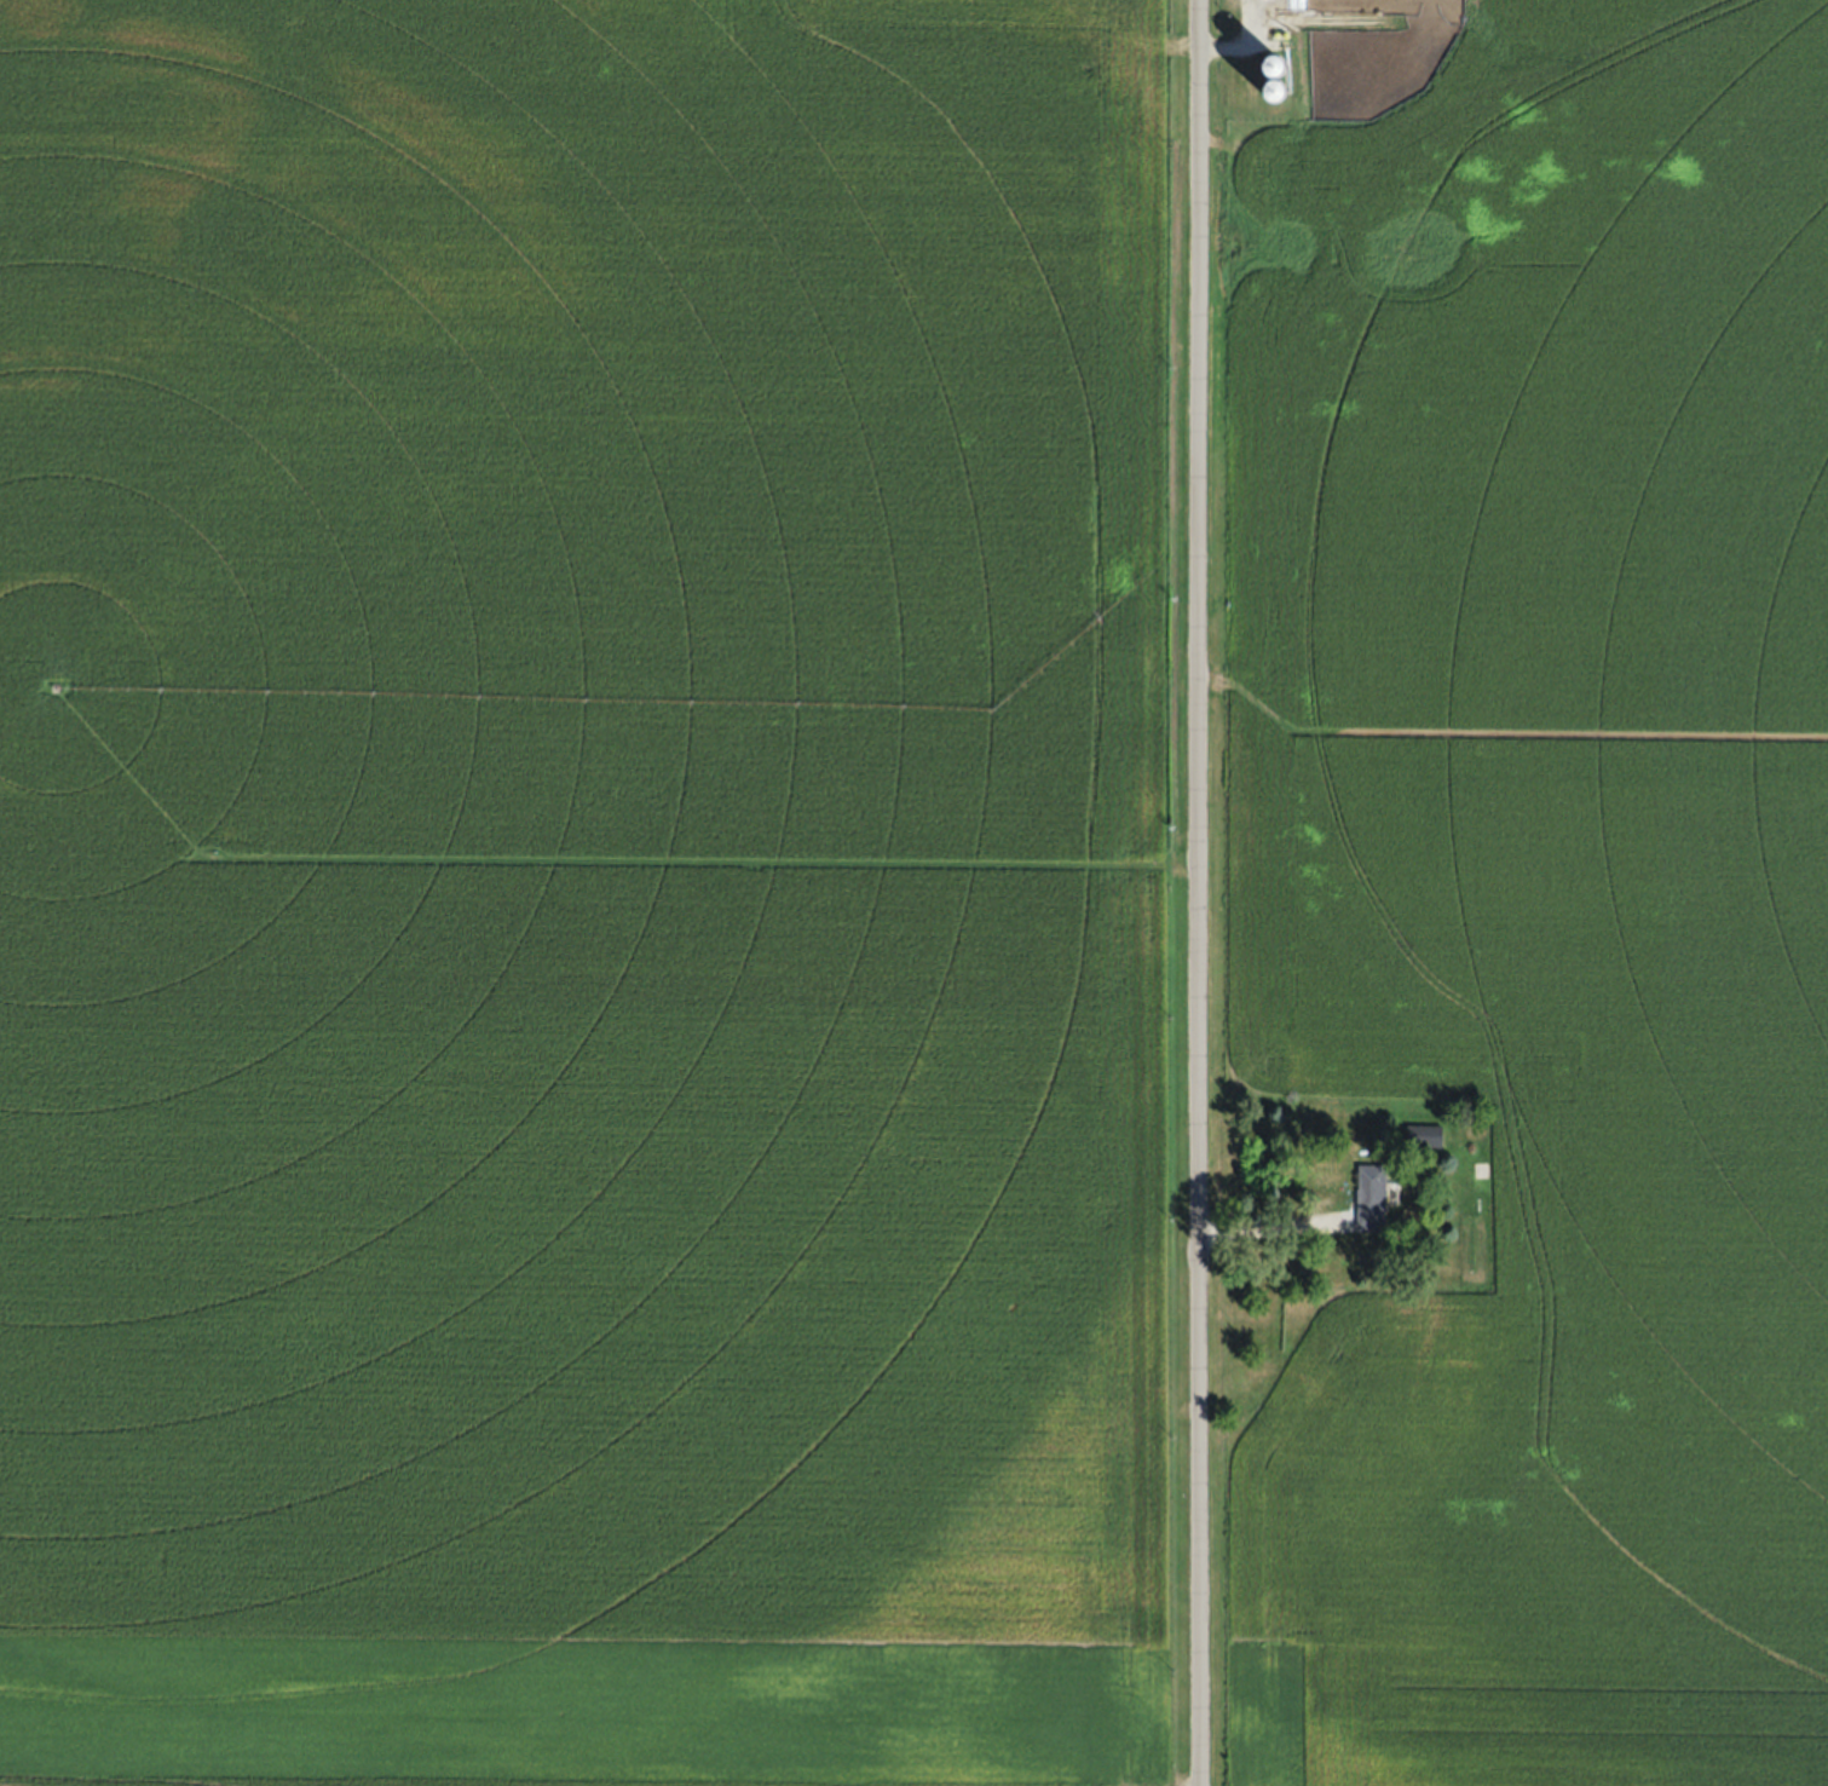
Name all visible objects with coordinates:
road: (1198, 893)
building: (1424, 1134)
building: (1372, 1194)

